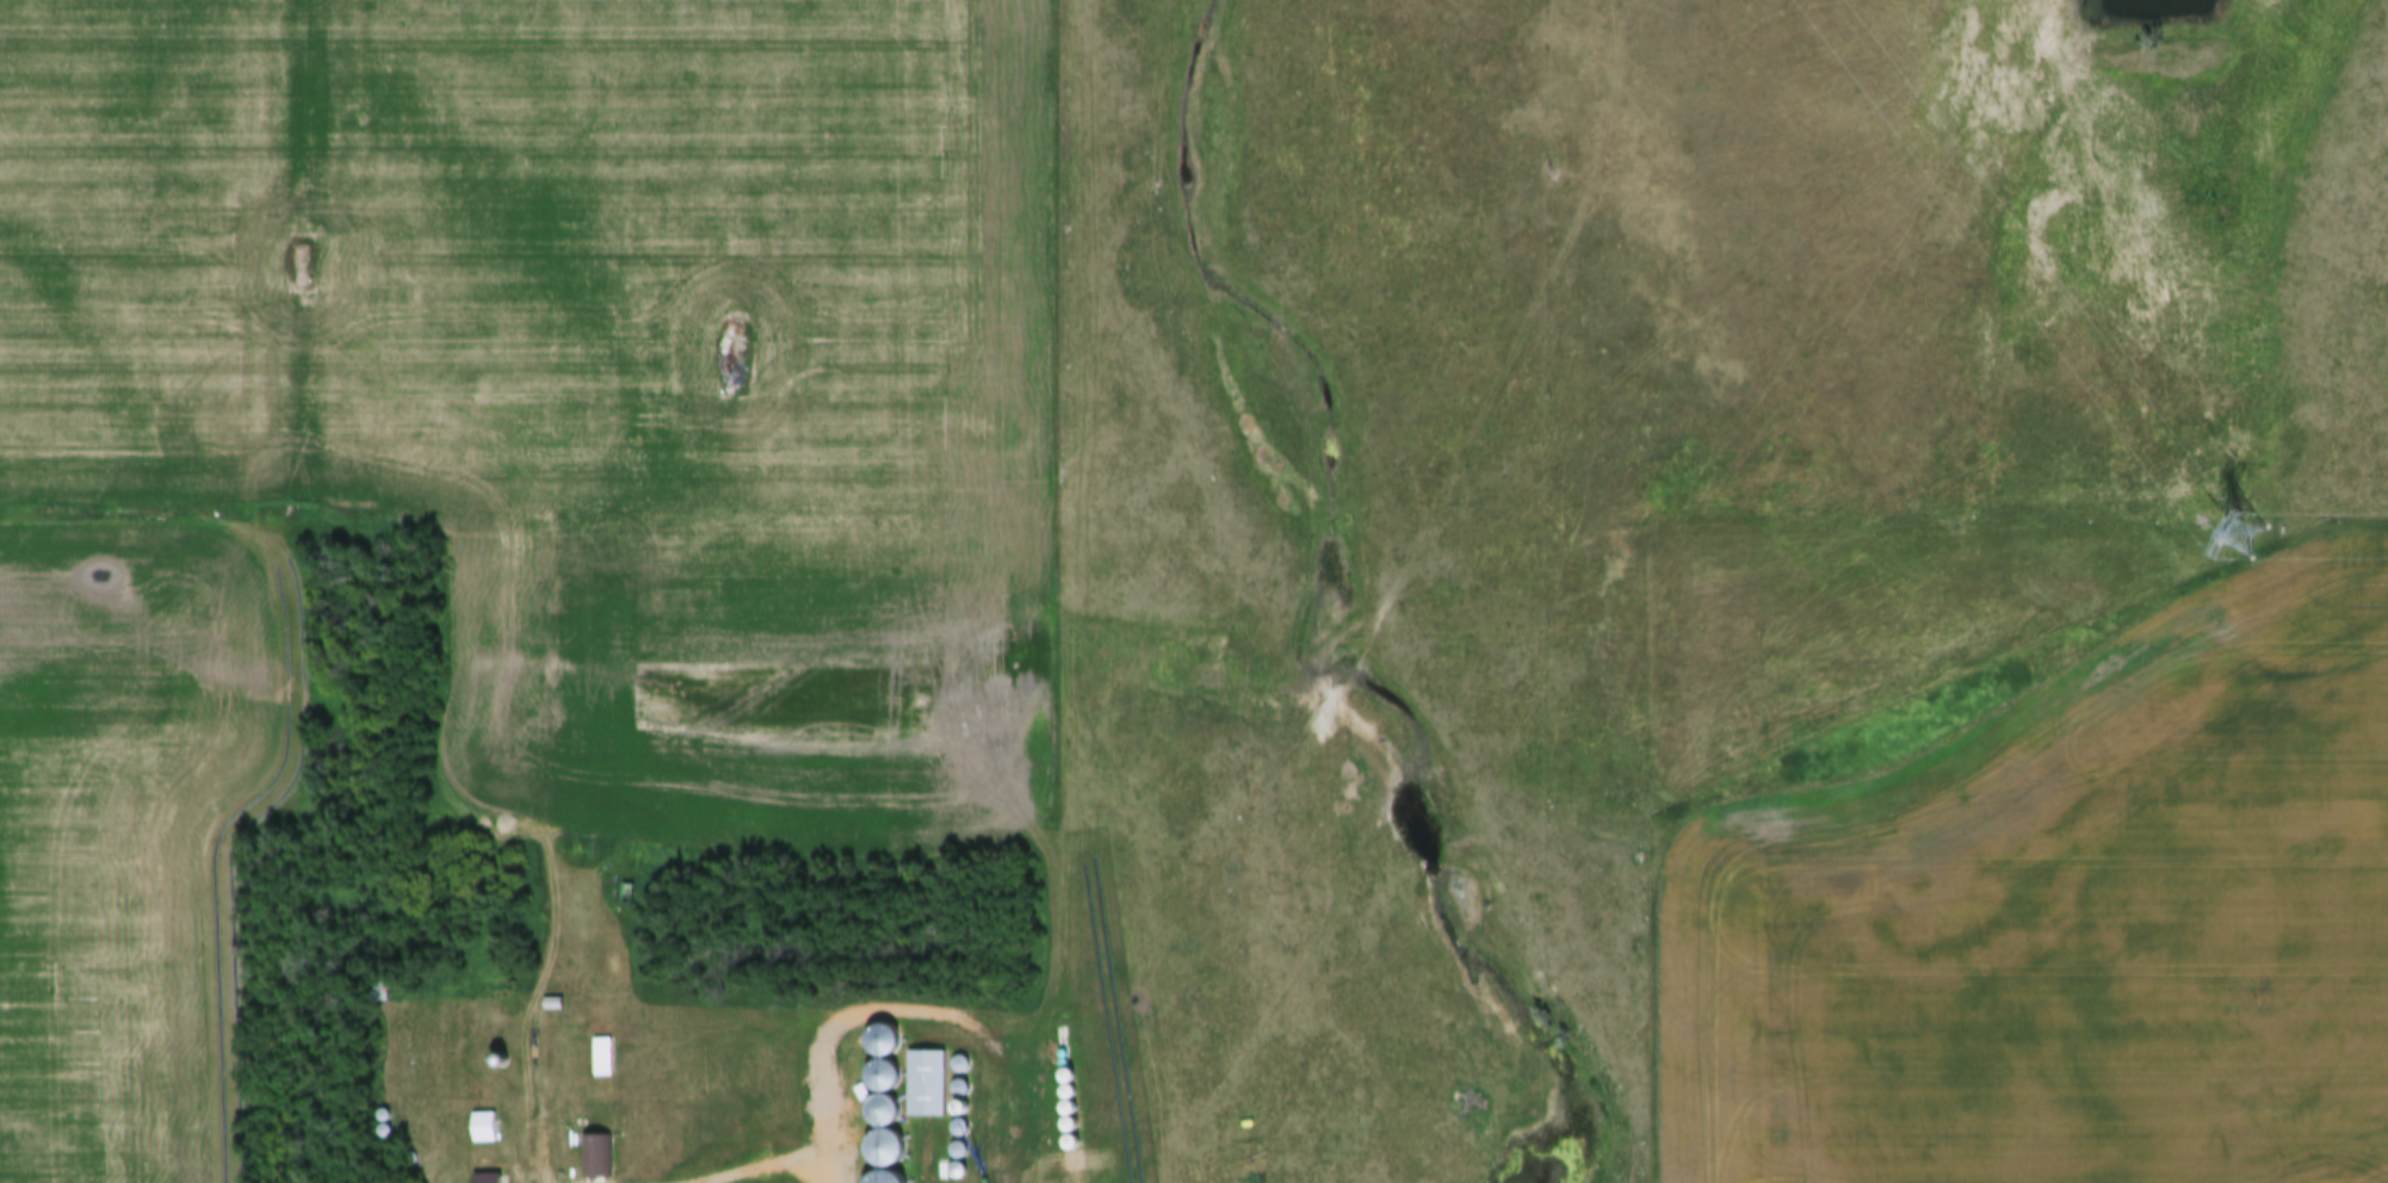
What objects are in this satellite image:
road: (1514, 342)
power tower: (2260, 537)
building: (552, 1007)
building: (602, 1060)
building: (924, 1085)
building: (483, 1131)
building: (596, 1159)
road: (539, 1167)
building: (485, 1179)

